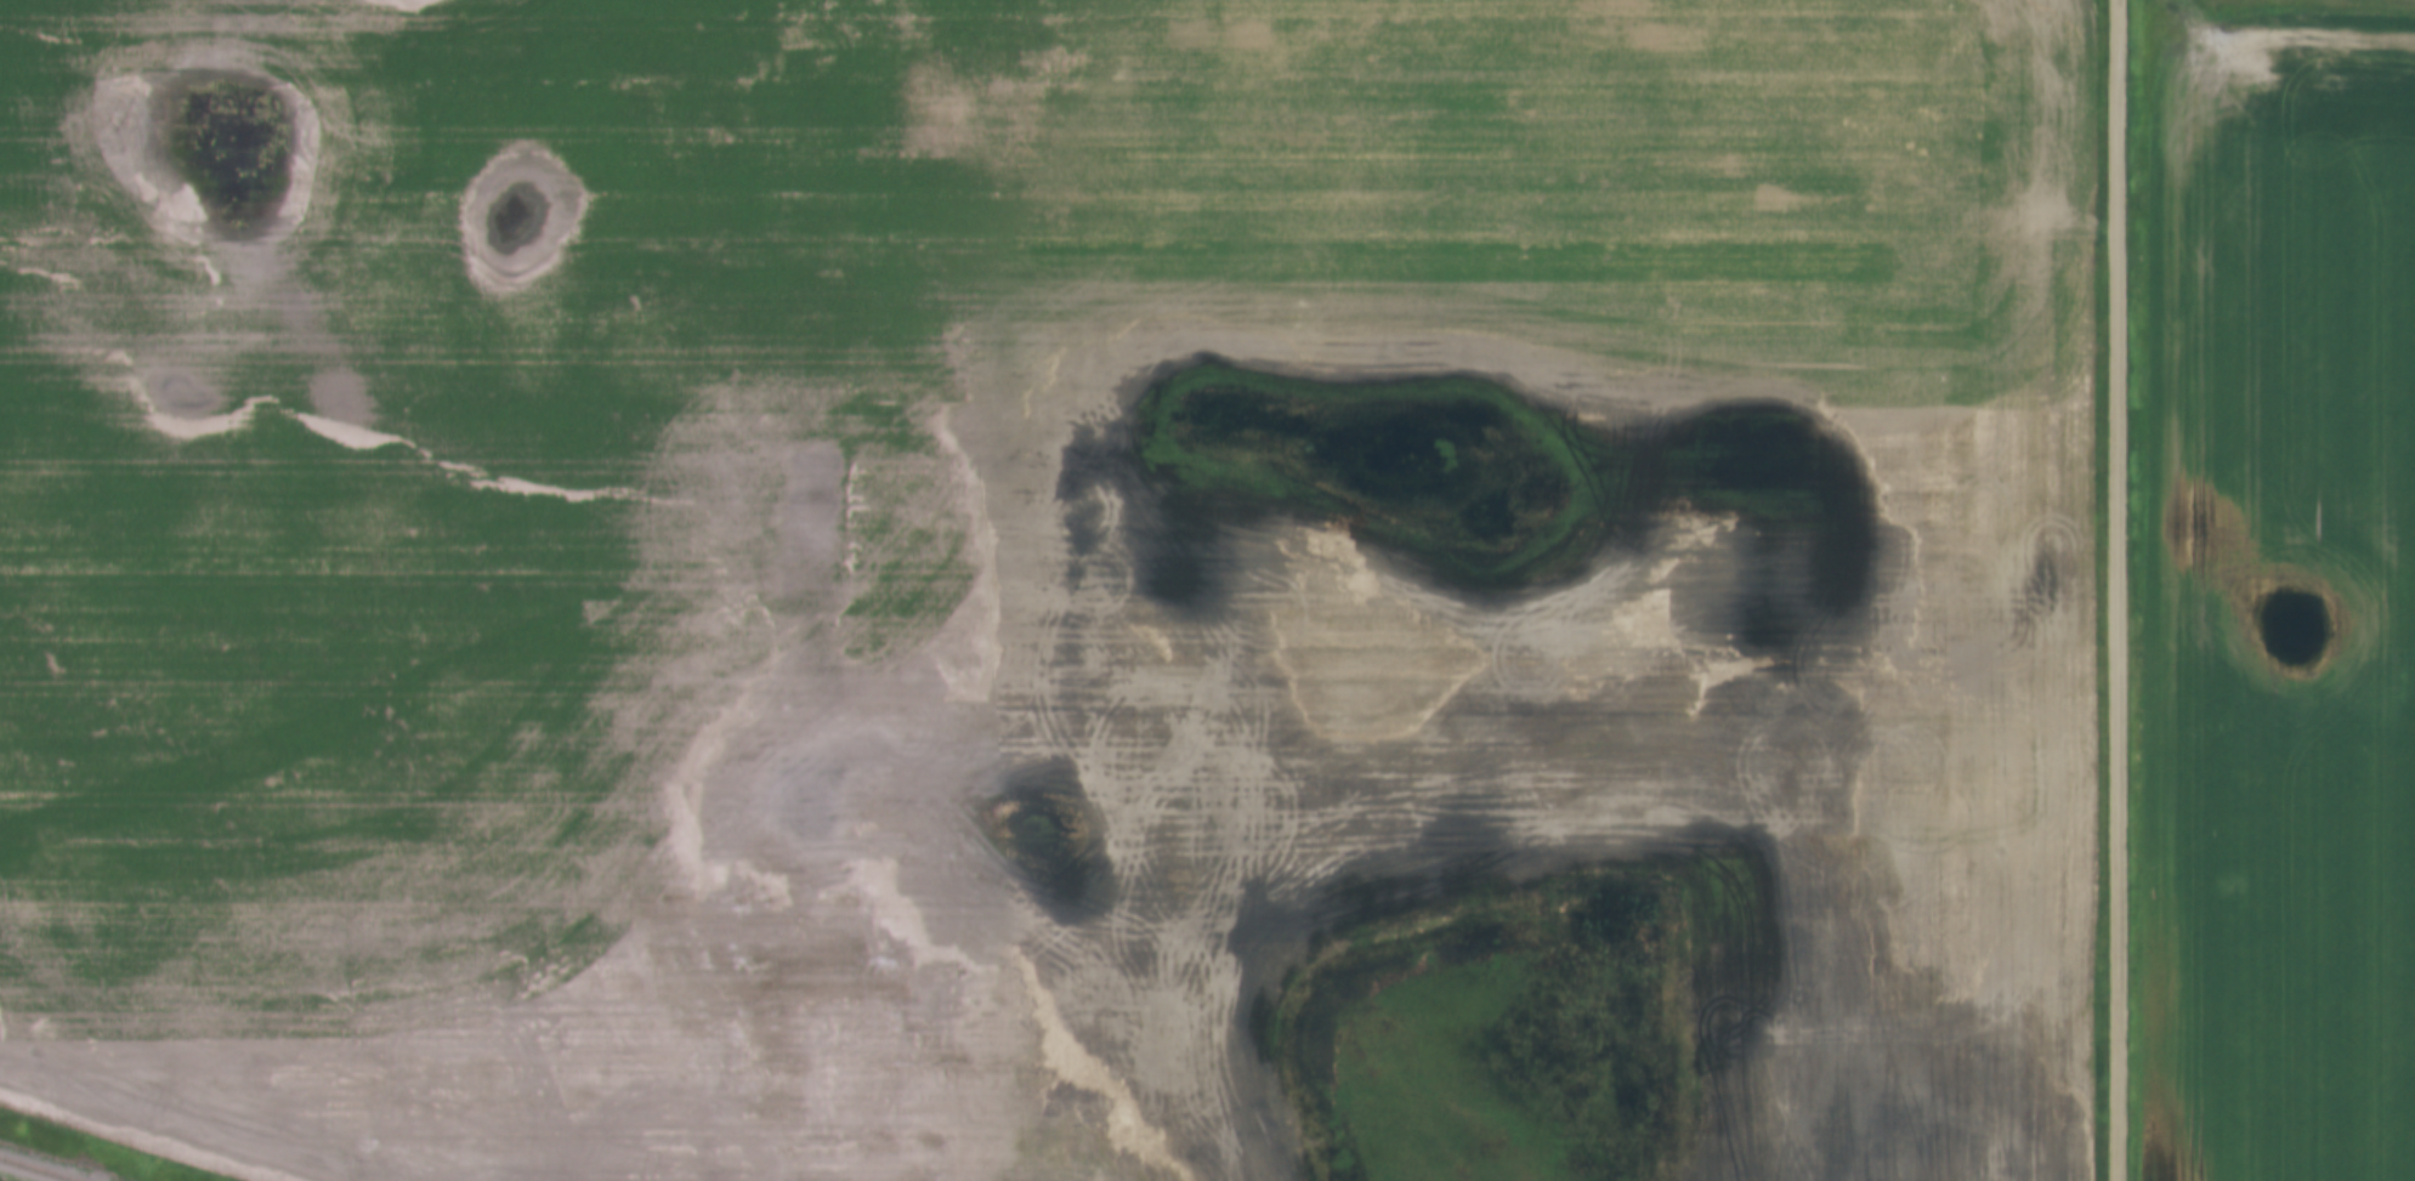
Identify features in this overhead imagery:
road: (2115, 590)
crop: (2283, 602)
railway: (33, 1170)

